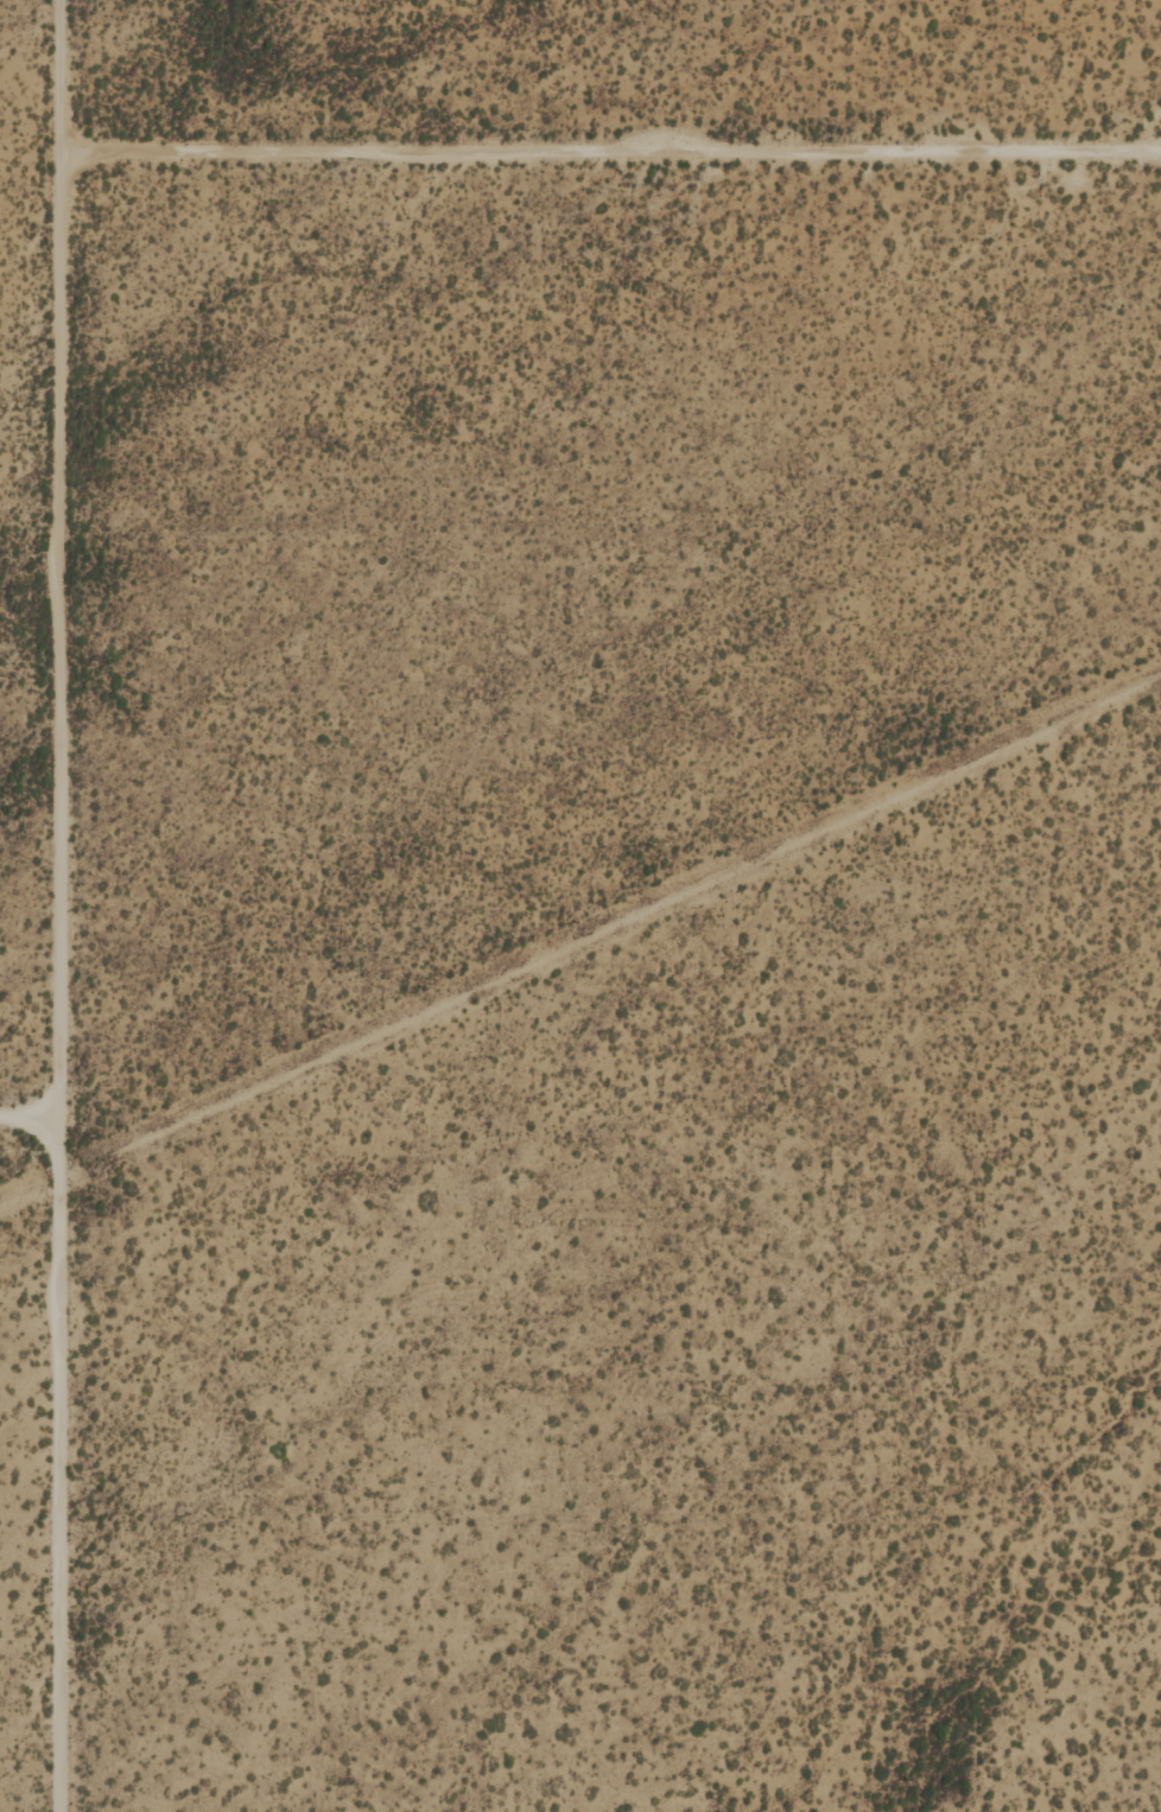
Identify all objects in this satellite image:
road: (611, 151)
road: (61, 905)
road: (30, 1117)

